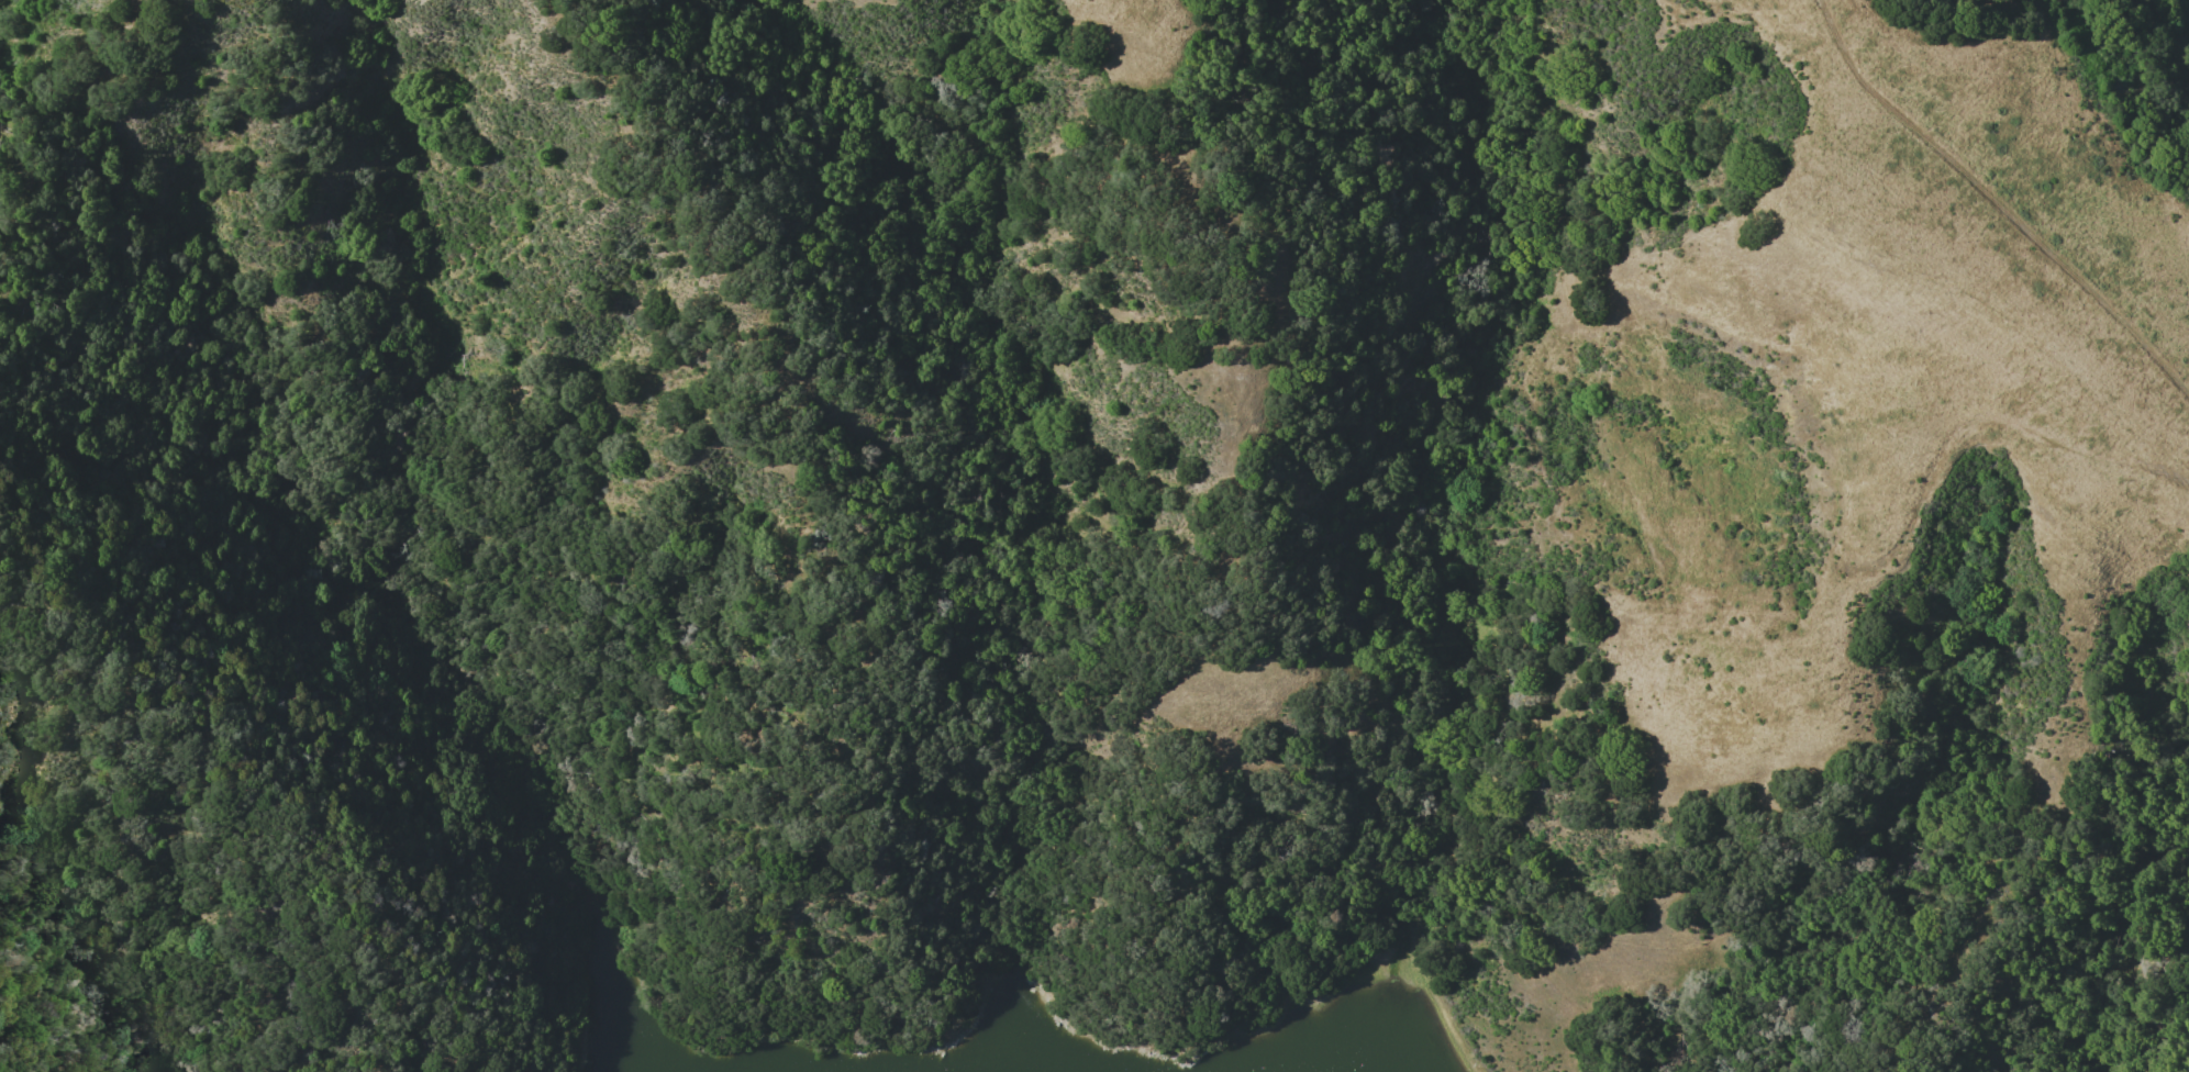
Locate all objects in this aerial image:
road: (1998, 206)

